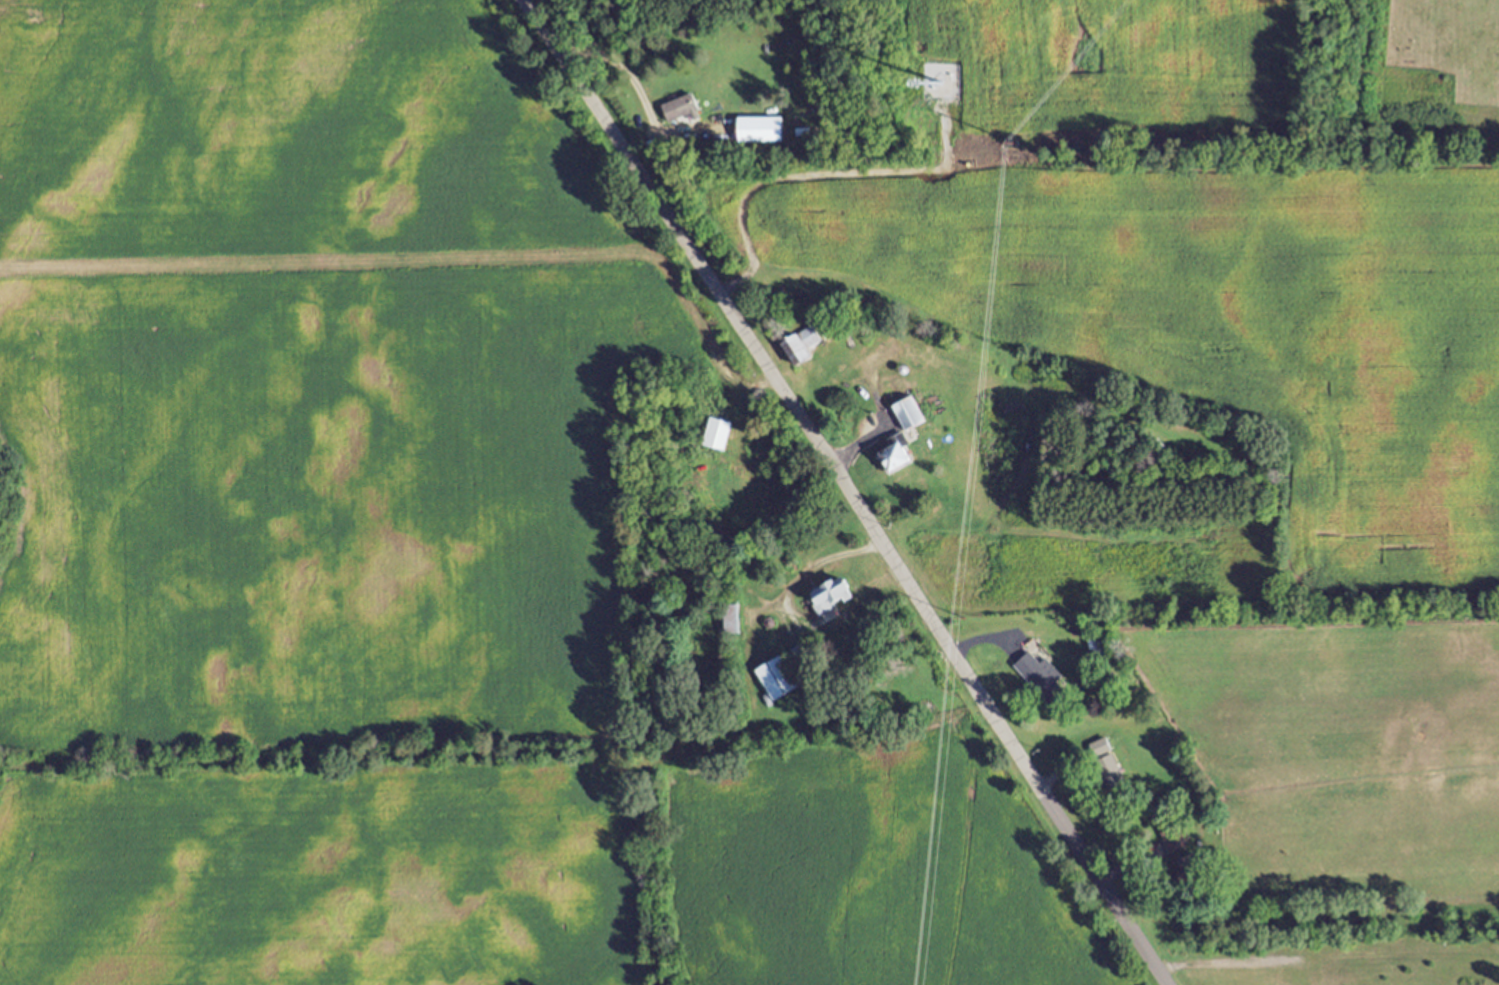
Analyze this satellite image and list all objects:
road: (563, 60)
building: (683, 111)
building: (762, 135)
road: (398, 255)
building: (804, 352)
crop: (1174, 371)
building: (914, 423)
building: (722, 437)
building: (902, 454)
road: (888, 551)
road: (810, 568)
building: (835, 597)
building: (736, 621)
building: (1100, 650)
building: (807, 656)
building: (1038, 675)
building: (780, 680)
building: (1108, 766)
building: (1175, 841)
park: (1320, 949)

